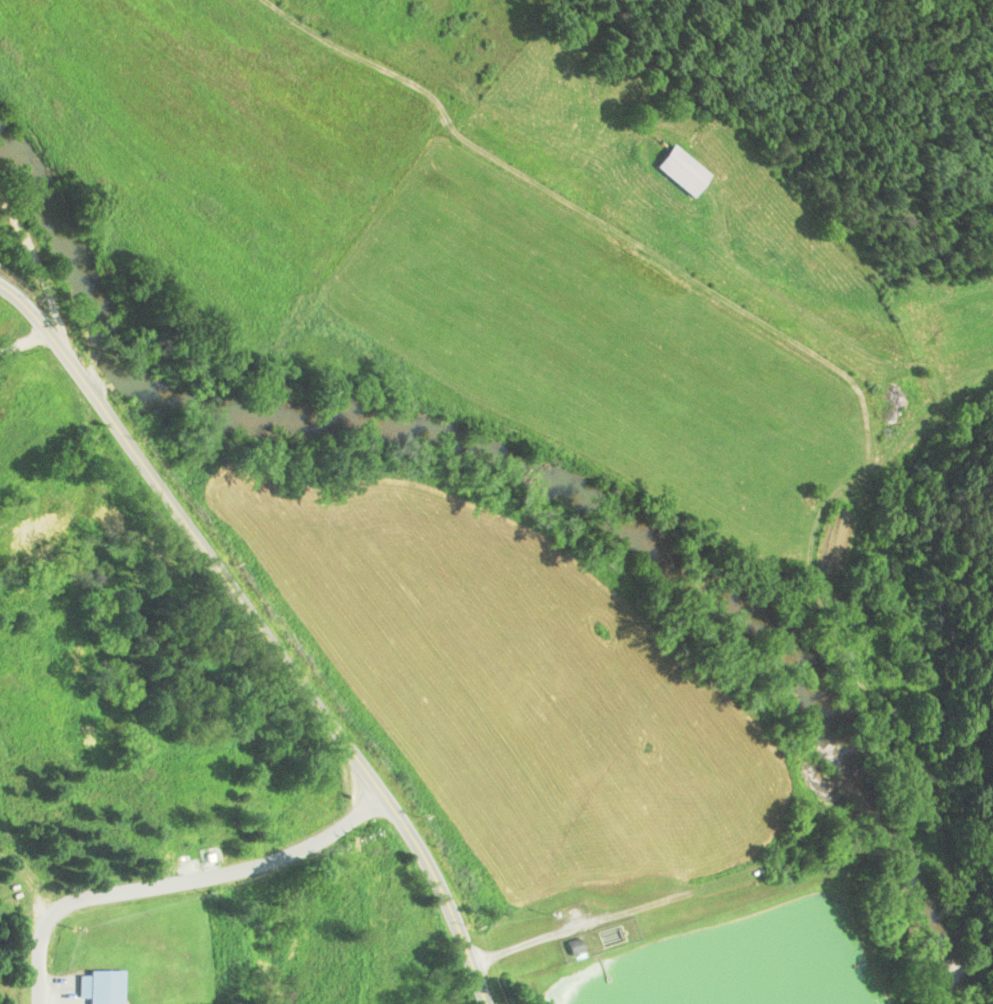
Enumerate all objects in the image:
building: (681, 170)
road: (40, 273)
building: (901, 397)
river: (535, 475)
road: (263, 630)
road: (226, 865)
road: (27, 944)
building: (573, 946)
building: (102, 986)

